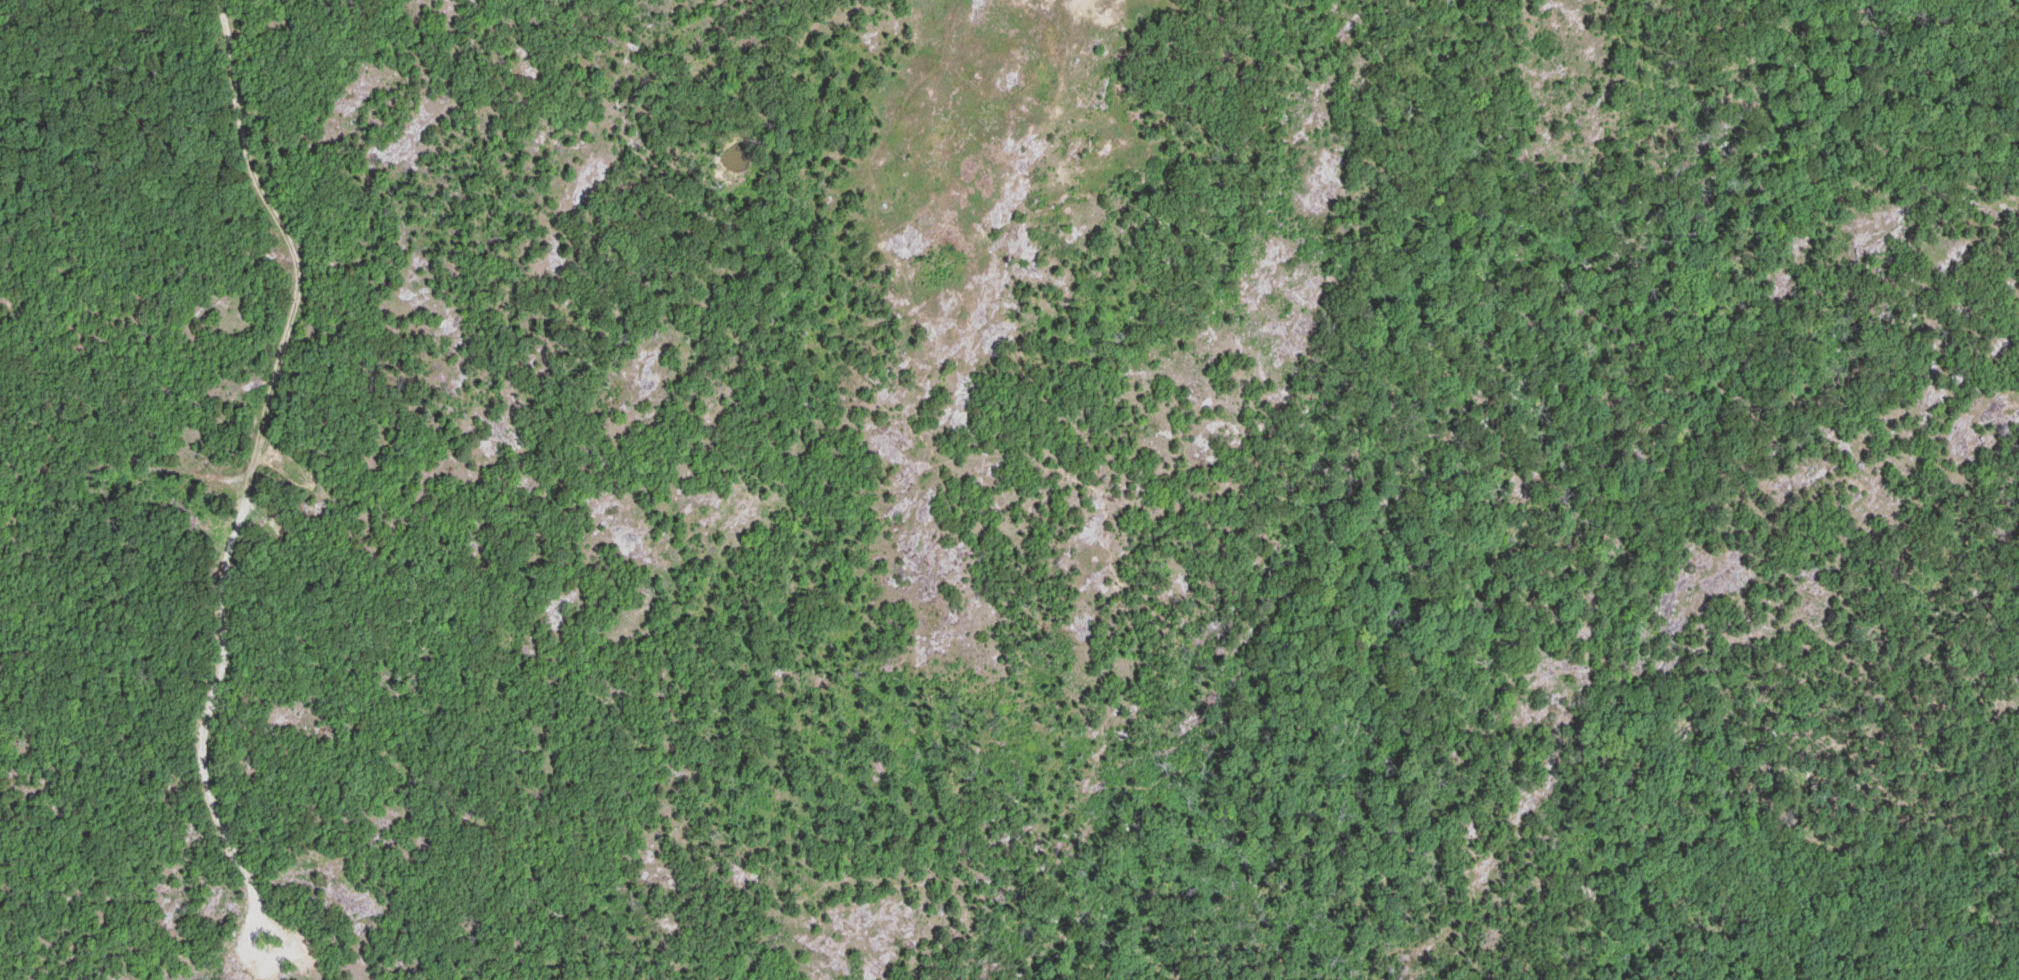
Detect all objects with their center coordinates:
road: (256, 463)
road: (770, 469)
road: (1134, 780)

